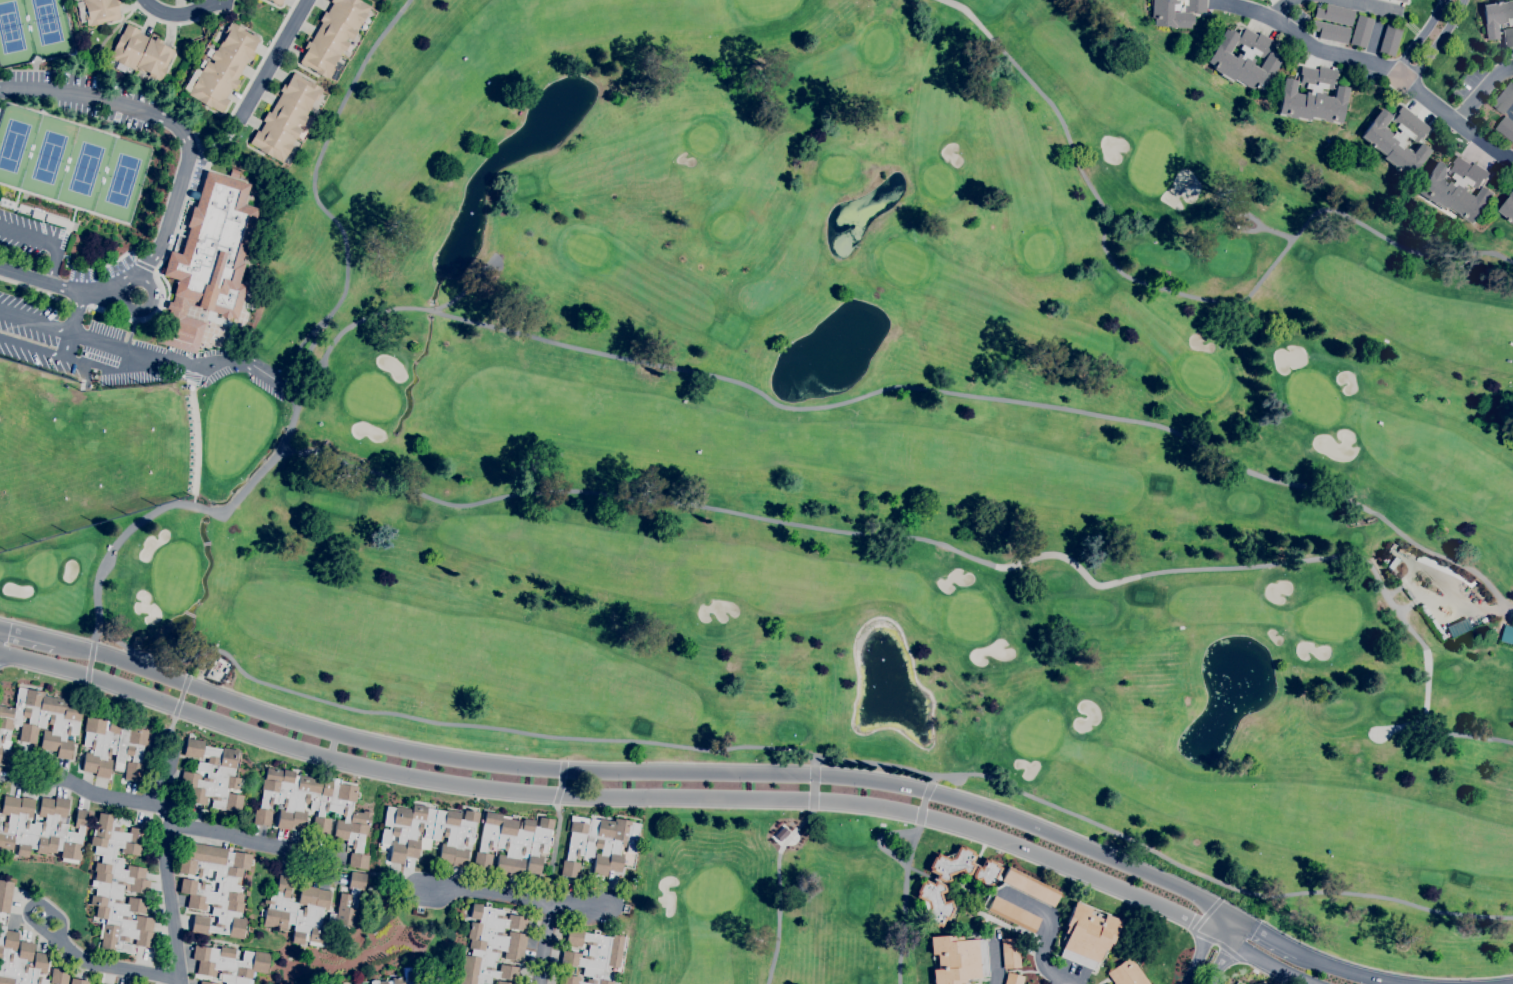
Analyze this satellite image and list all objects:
building: (1402, 0)
building: (275, 2)
building: (97, 11)
road: (1383, 11)
building: (1174, 12)
road: (1296, 13)
road: (184, 14)
building: (1335, 14)
building: (1496, 17)
road: (179, 23)
park: (49, 28)
building: (1330, 31)
building: (1360, 31)
park: (15, 35)
building: (333, 35)
building: (1507, 38)
road: (1417, 39)
building: (1389, 40)
road: (1435, 42)
road: (1312, 48)
building: (141, 52)
road: (262, 58)
building: (1243, 58)
road: (272, 59)
building: (221, 68)
road: (1481, 91)
building: (1312, 97)
building: (1503, 98)
road: (1431, 103)
building: (286, 117)
building: (1506, 128)
building: (1397, 139)
park: (15, 141)
road: (1482, 143)
road: (185, 144)
park: (47, 156)
park: (84, 168)
park: (121, 179)
building: (1456, 189)
road: (196, 190)
building: (1508, 209)
road: (28, 240)
building: (177, 244)
building: (207, 256)
road: (144, 265)
road: (51, 267)
road: (40, 283)
road: (166, 284)
road: (32, 288)
road: (1172, 290)
road: (76, 302)
road: (158, 307)
road: (144, 310)
road: (35, 322)
road: (72, 325)
road: (31, 347)
road: (128, 362)
road: (208, 366)
park: (842, 460)
building: (1403, 551)
building: (1445, 570)
building: (1428, 584)
road: (1484, 608)
building: (1431, 622)
road: (28, 635)
building: (1507, 635)
building: (219, 660)
road: (1427, 668)
building: (225, 670)
building: (40, 721)
building: (113, 748)
road: (153, 770)
road: (643, 775)
building: (213, 776)
road: (661, 795)
building: (315, 807)
building: (0, 819)
road: (181, 823)
building: (41, 827)
building: (429, 832)
building: (513, 843)
building: (598, 843)
building: (951, 864)
building: (986, 873)
building: (119, 885)
building: (1030, 887)
building: (194, 888)
building: (5, 895)
road: (483, 895)
road: (169, 896)
road: (31, 902)
building: (934, 903)
road: (576, 905)
building: (312, 911)
building: (1012, 914)
building: (0, 923)
road: (1049, 926)
road: (1261, 931)
building: (1087, 935)
road: (547, 943)
building: (492, 945)
road: (1214, 948)
building: (1010, 953)
building: (592, 956)
building: (957, 959)
building: (19, 960)
road: (995, 962)
building: (229, 963)
road: (113, 966)
road: (1346, 971)
building: (1126, 973)
road: (1069, 974)
building: (58, 976)
building: (403, 977)
building: (1014, 979)
building: (77, 981)
building: (206, 982)
building: (503, 982)
building: (98, 983)
building: (359, 983)

